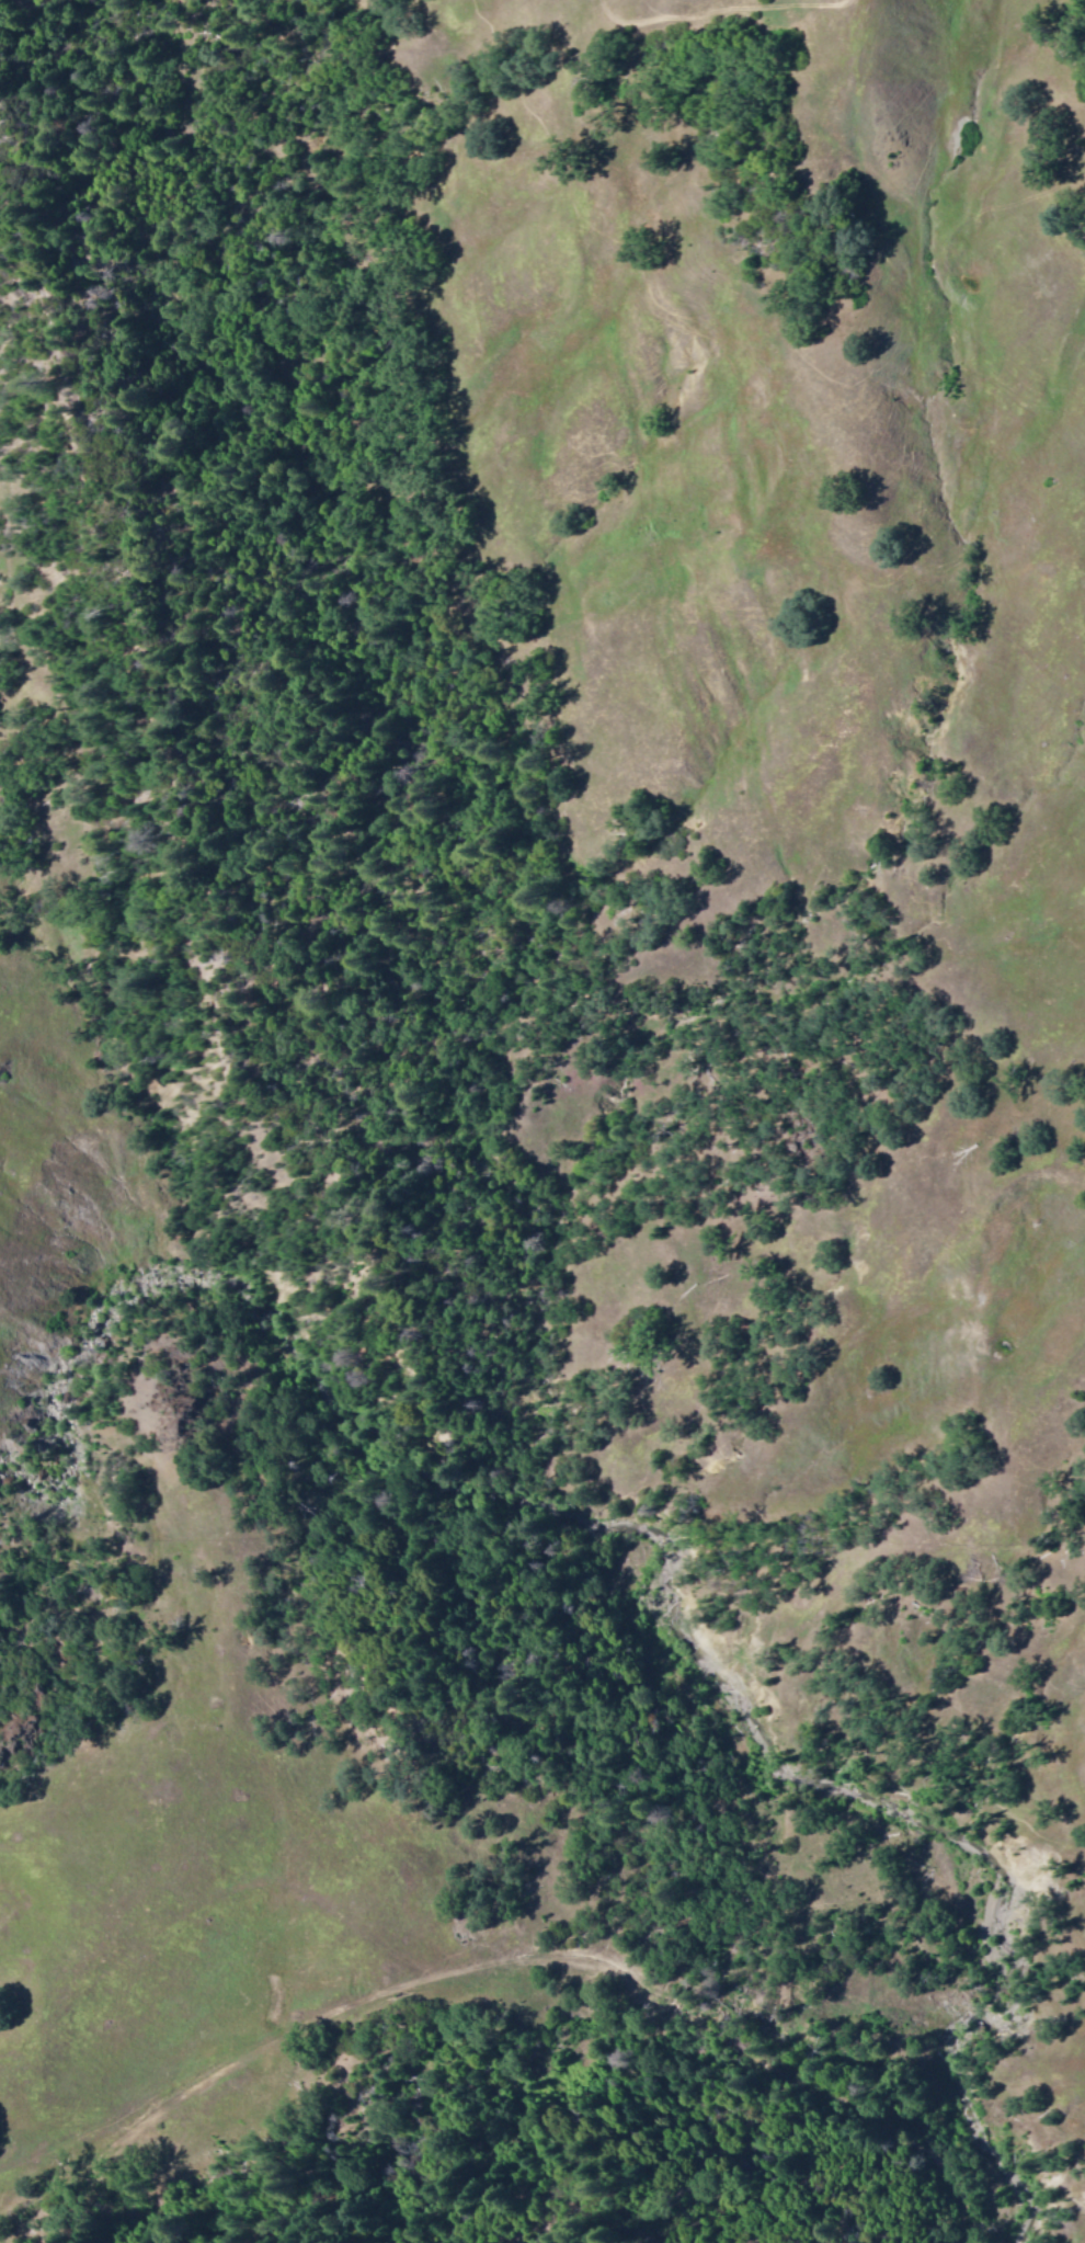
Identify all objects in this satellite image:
road: (507, 1950)

